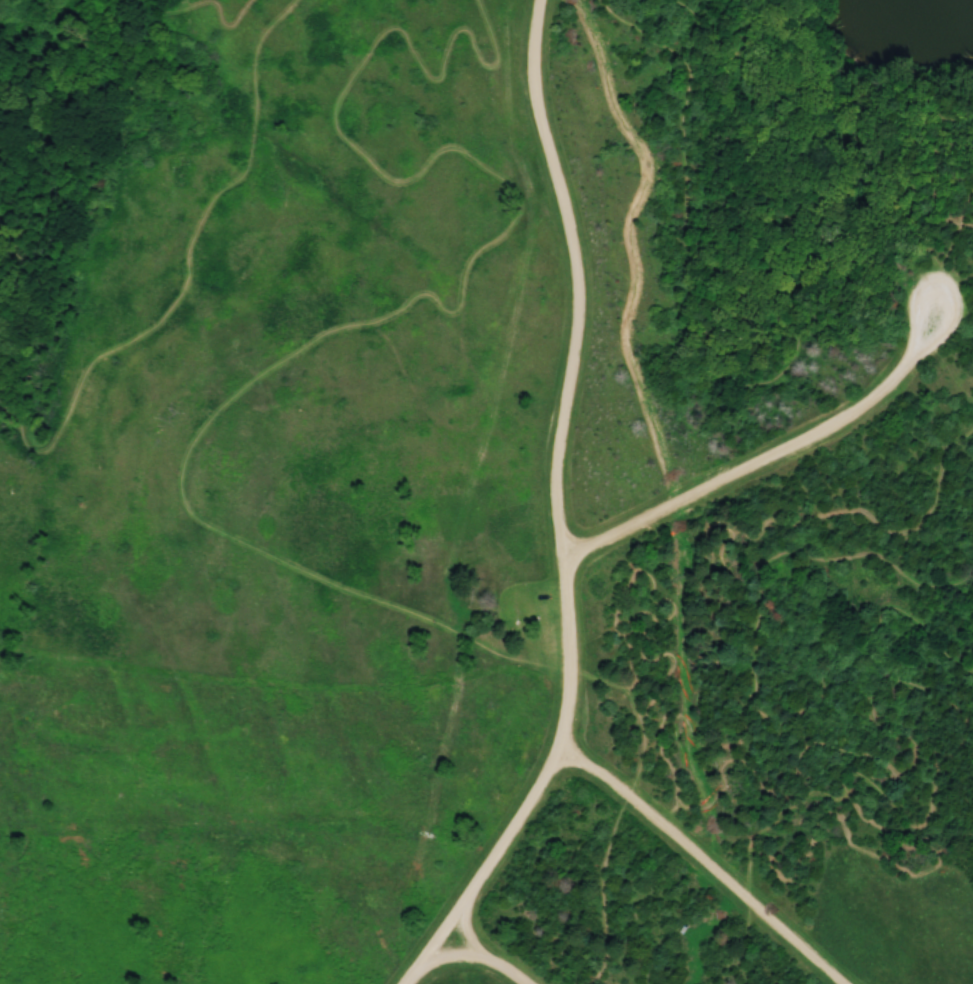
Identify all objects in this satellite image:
road: (713, 44)
road: (112, 102)
road: (189, 272)
road: (729, 370)
road: (568, 372)
road: (767, 456)
road: (186, 465)
park: (486, 492)
road: (711, 636)
road: (633, 703)
road: (890, 735)
road: (630, 790)
road: (459, 933)

